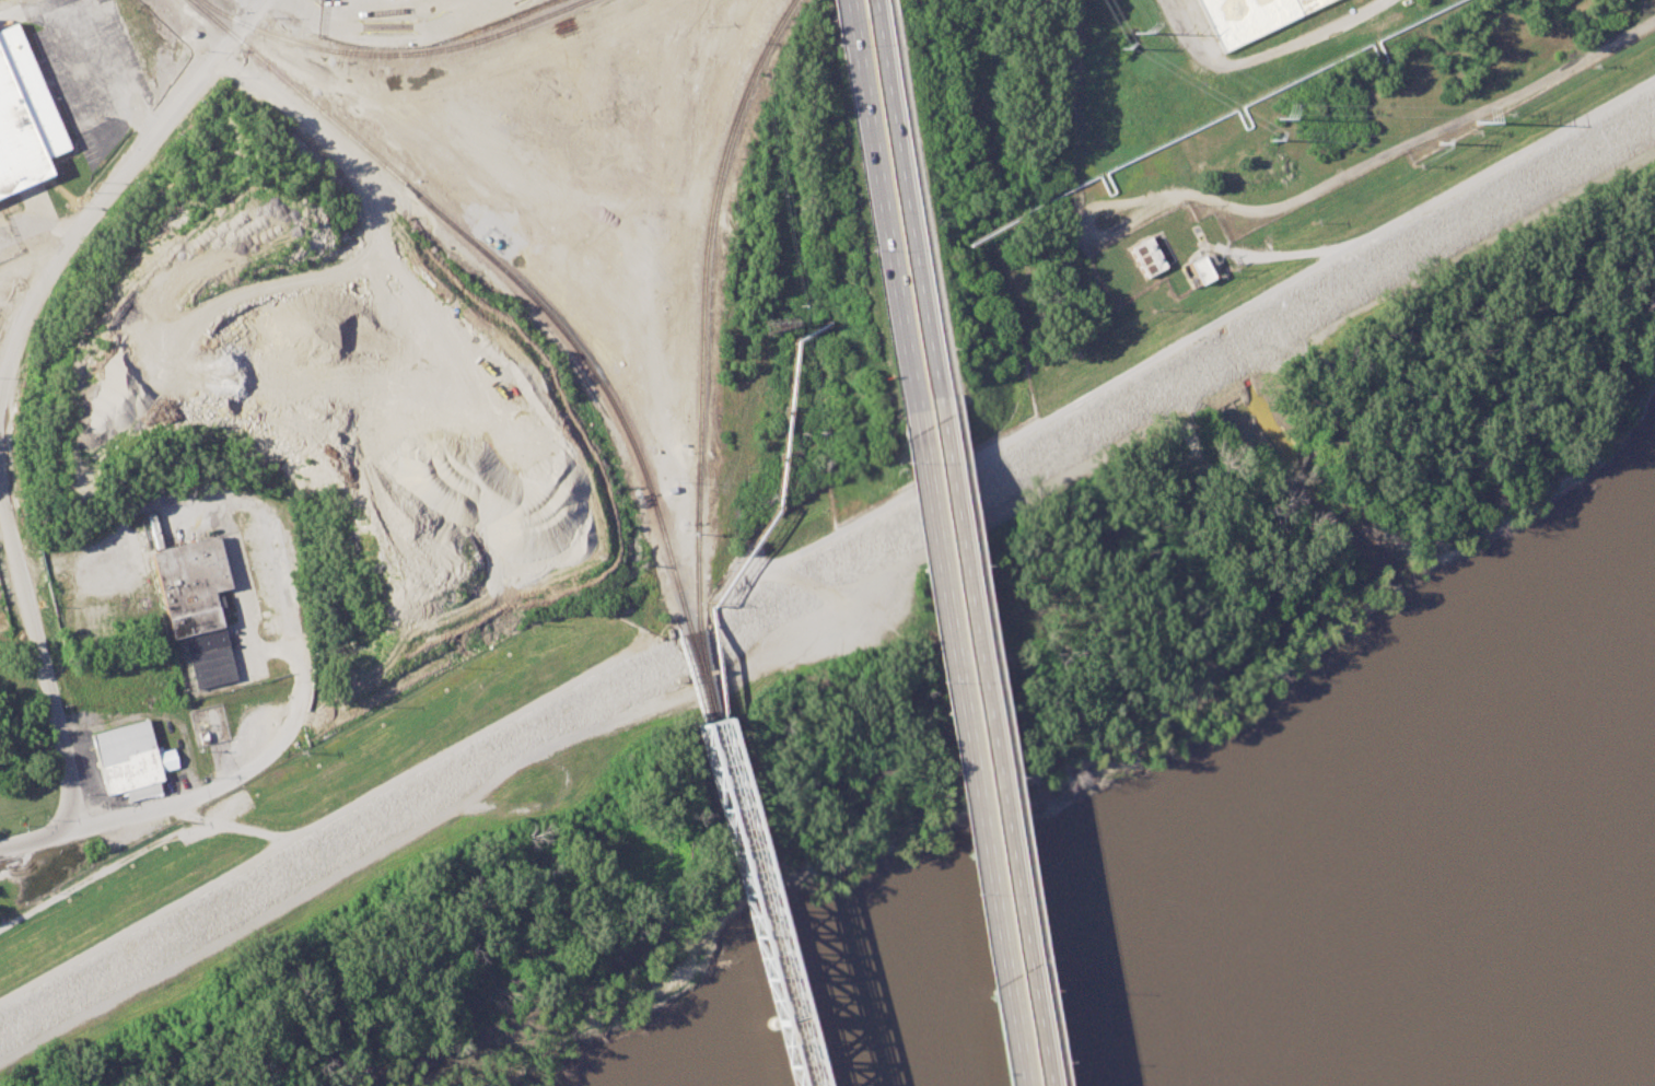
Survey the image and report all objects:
road: (888, 3)
road: (59, 13)
building: (1247, 16)
road: (384, 26)
street lamp: (831, 42)
railway: (391, 56)
building: (23, 117)
street lamp: (908, 133)
road: (131, 170)
road: (902, 198)
road: (876, 206)
road: (920, 209)
road: (43, 229)
road: (5, 235)
street lamp: (863, 250)
building: (1145, 256)
road: (27, 258)
building: (1199, 269)
railway: (503, 270)
railway: (702, 307)
road: (1234, 312)
street lamp: (940, 349)
street lamp: (897, 465)
street lamp: (971, 568)
road: (27, 586)
road: (294, 600)
building: (196, 605)
railway: (703, 675)
street lamp: (928, 681)
road: (989, 740)
road: (959, 748)
road: (1003, 748)
building: (131, 759)
street lamp: (1002, 779)
road: (174, 803)
road: (322, 818)
road: (230, 825)
railway: (747, 859)
street lamp: (959, 896)
river: (1434, 968)
street lamp: (1035, 984)

